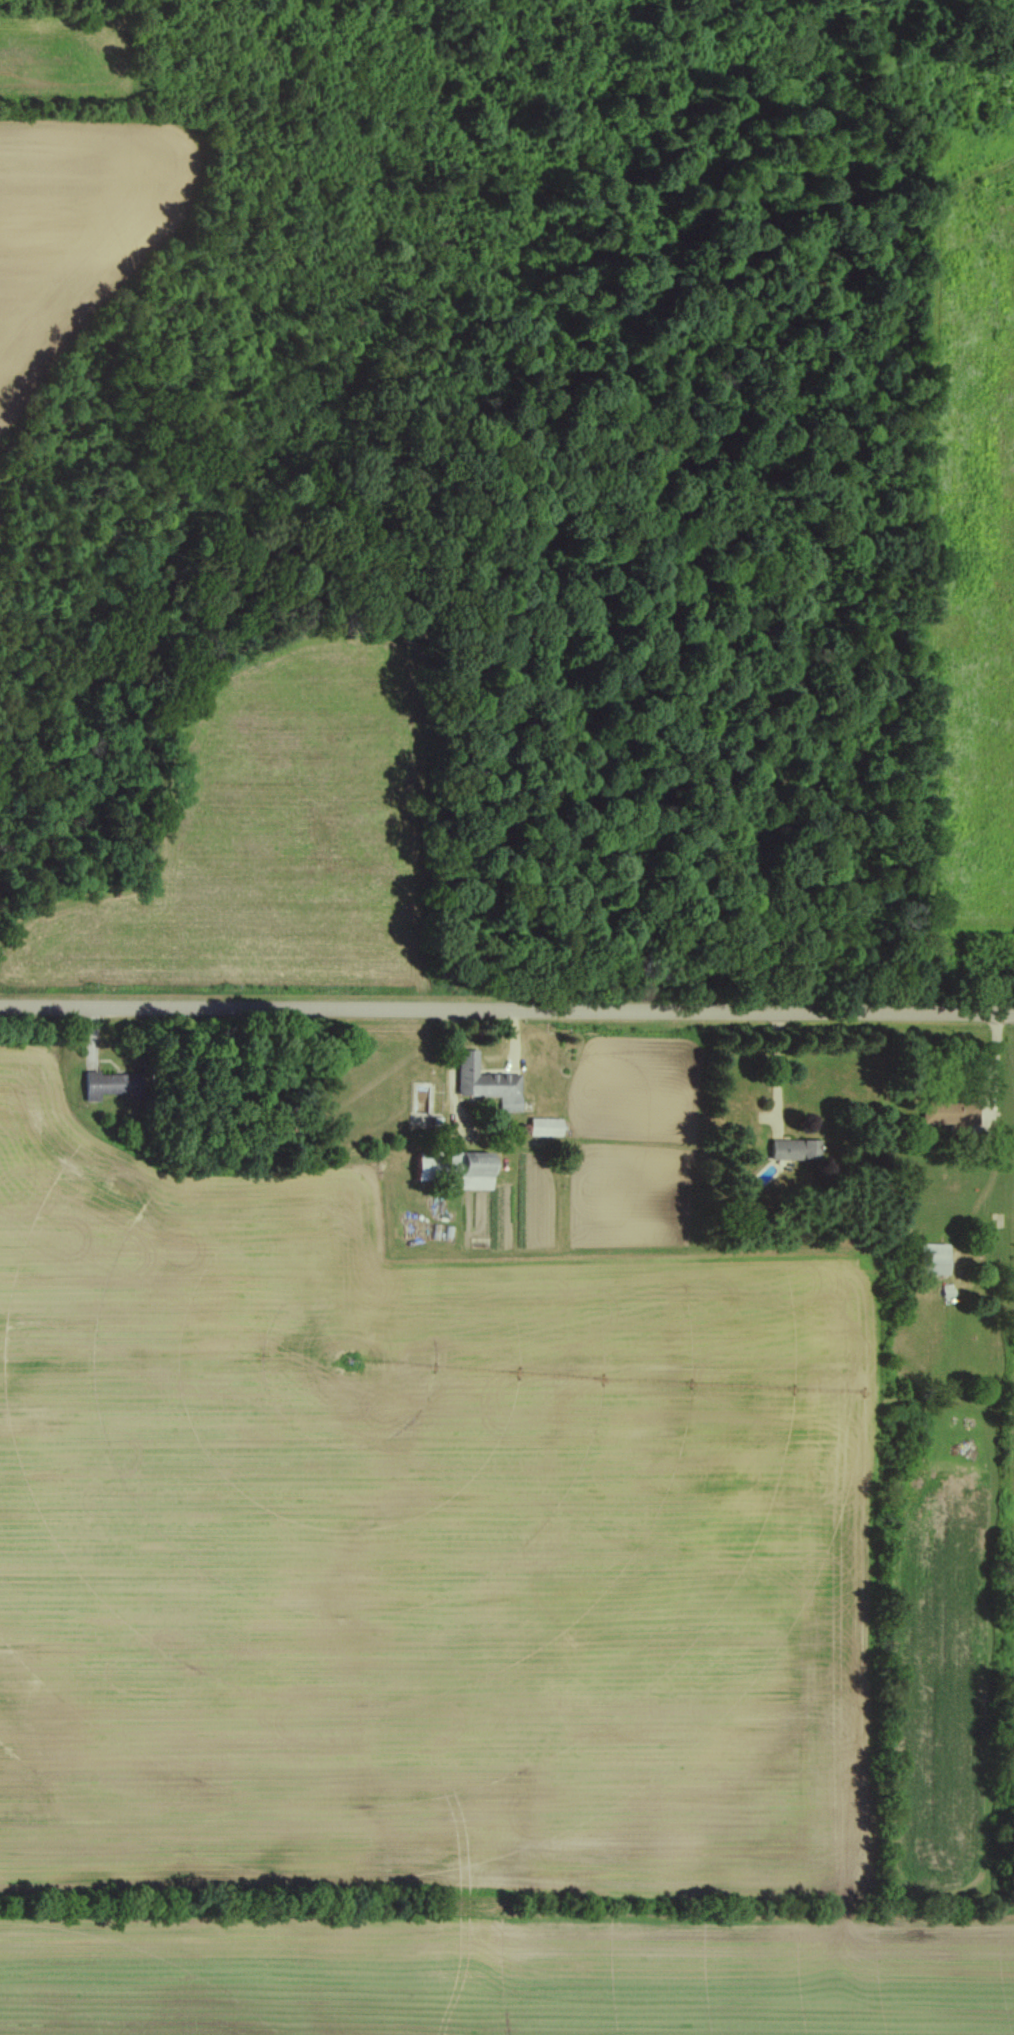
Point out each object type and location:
road: (506, 1012)
road: (987, 1068)
road: (781, 1071)
building: (484, 1083)
building: (109, 1085)
building: (791, 1150)
building: (451, 1169)
building: (932, 1260)

